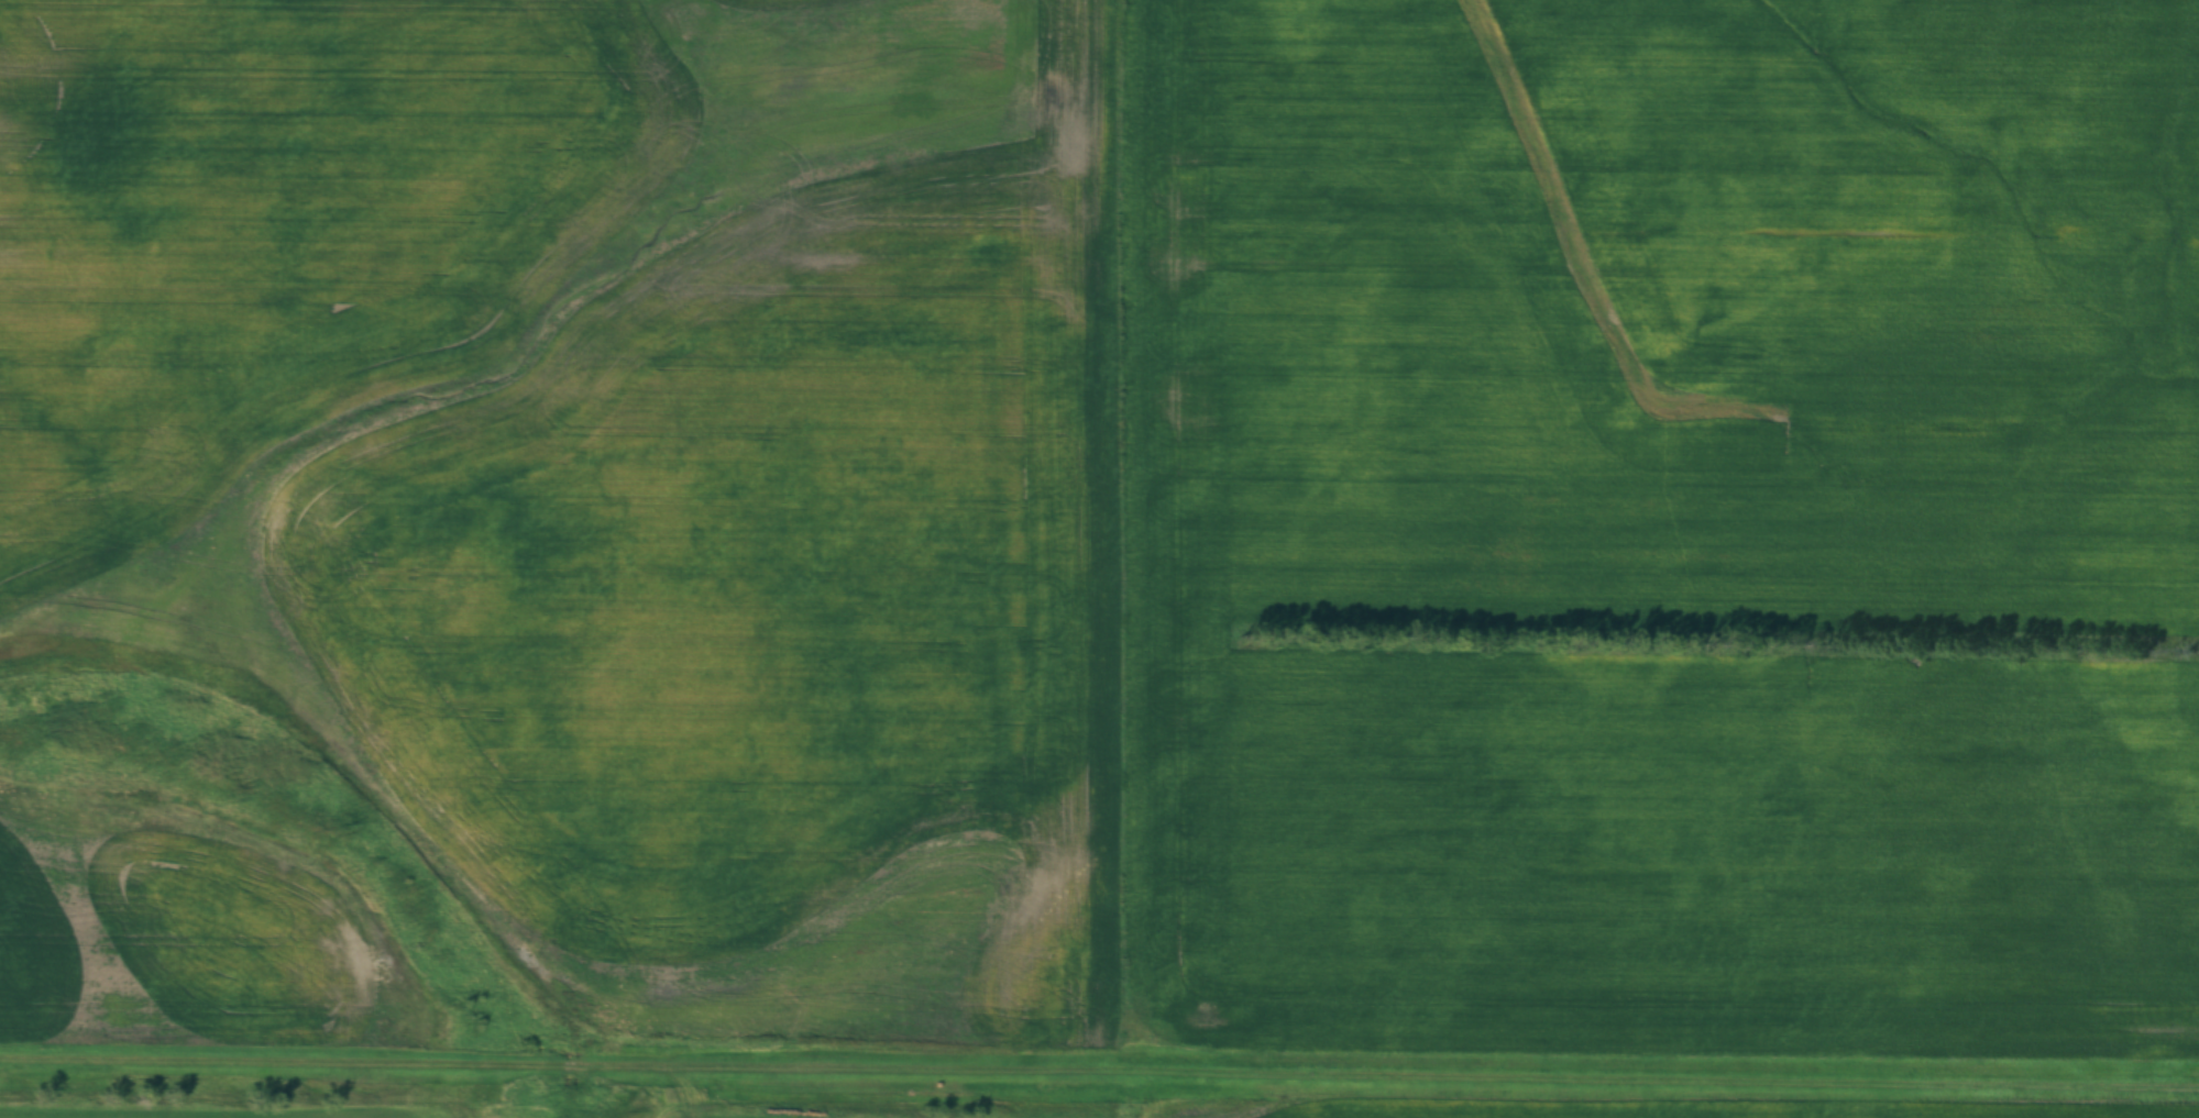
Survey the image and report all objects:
road: (1099, 1077)

